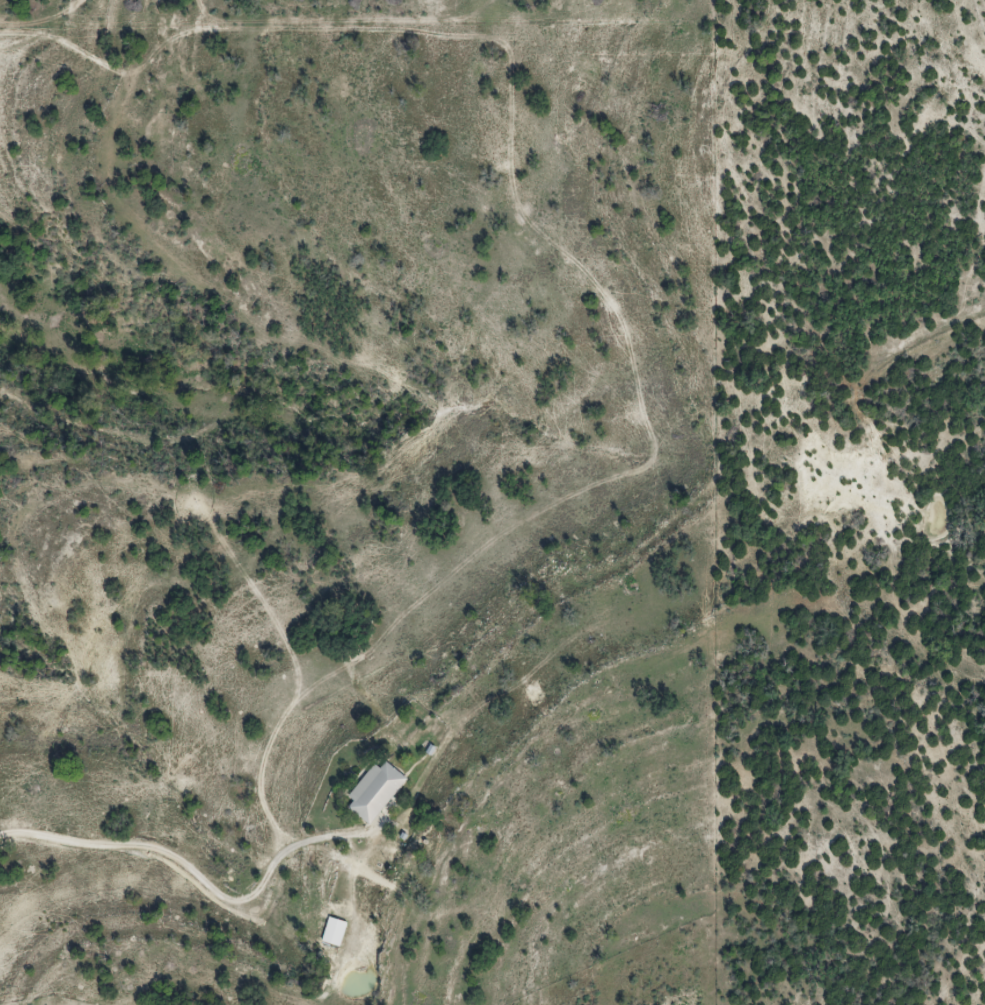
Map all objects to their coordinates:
building: (373, 790)
road: (201, 876)
building: (331, 931)

